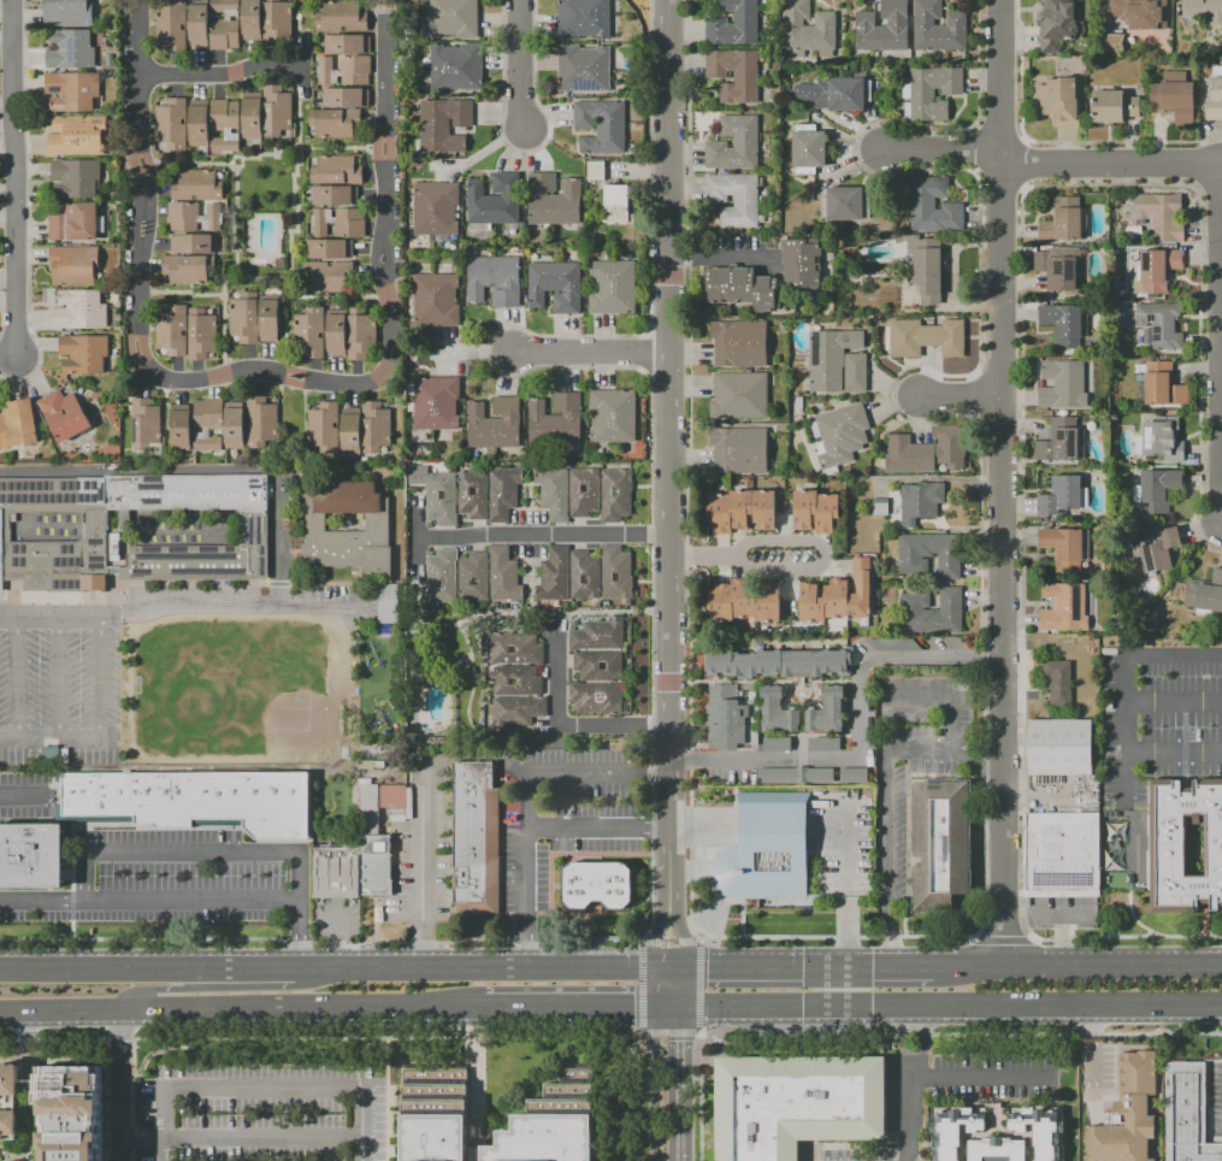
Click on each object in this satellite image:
building: (1117, 7)
building: (1204, 10)
building: (66, 12)
building: (1149, 13)
building: (341, 17)
building: (451, 18)
building: (252, 19)
building: (583, 19)
building: (277, 22)
building: (171, 24)
building: (199, 24)
building: (732, 24)
building: (1055, 24)
building: (225, 25)
building: (882, 28)
building: (938, 28)
building: (808, 29)
building: (1111, 42)
building: (346, 43)
building: (70, 49)
road: (383, 63)
building: (454, 66)
road: (524, 67)
building: (583, 67)
building: (344, 70)
road: (220, 72)
road: (138, 73)
building: (733, 73)
building: (71, 90)
building: (933, 92)
building: (833, 93)
building: (1215, 95)
building: (344, 96)
building: (1174, 98)
building: (1057, 99)
building: (1114, 106)
building: (277, 111)
building: (252, 117)
building: (332, 122)
building: (197, 124)
building: (225, 124)
building: (443, 124)
building: (171, 125)
building: (600, 125)
road: (299, 126)
building: (73, 135)
building: (733, 143)
road: (377, 146)
road: (388, 146)
road: (330, 148)
building: (808, 149)
road: (283, 153)
road: (941, 155)
road: (142, 161)
road: (242, 161)
road: (178, 163)
road: (1111, 163)
road: (135, 164)
road: (214, 164)
building: (595, 170)
building: (336, 171)
road: (14, 175)
building: (76, 177)
building: (196, 185)
building: (333, 194)
road: (143, 195)
building: (734, 198)
building: (494, 200)
building: (553, 200)
building: (616, 204)
building: (844, 204)
road: (383, 205)
building: (933, 205)
building: (436, 207)
road: (232, 210)
building: (1161, 214)
building: (194, 217)
building: (1062, 220)
building: (73, 222)
building: (340, 222)
road: (136, 226)
road: (144, 228)
road: (287, 231)
building: (193, 243)
building: (330, 248)
road: (290, 252)
road: (712, 257)
road: (376, 259)
road: (384, 259)
building: (278, 261)
building: (802, 263)
building: (73, 265)
road: (668, 267)
building: (188, 269)
building: (921, 269)
building: (1056, 270)
building: (1155, 271)
building: (325, 276)
road: (256, 277)
building: (495, 279)
road: (237, 281)
road: (138, 285)
building: (555, 285)
building: (613, 287)
building: (742, 287)
road: (188, 293)
road: (223, 299)
building: (436, 300)
building: (79, 310)
building: (243, 317)
building: (267, 318)
building: (1063, 324)
building: (1161, 324)
building: (171, 331)
building: (201, 332)
building: (309, 332)
building: (359, 332)
building: (336, 334)
building: (923, 337)
building: (738, 343)
road: (138, 347)
road: (130, 349)
road: (589, 350)
building: (83, 353)
road: (248, 355)
road: (388, 358)
building: (836, 361)
road: (176, 369)
road: (196, 369)
road: (294, 371)
road: (206, 377)
road: (291, 379)
road: (255, 382)
road: (141, 383)
building: (1061, 384)
building: (1162, 384)
road: (212, 387)
road: (232, 387)
road: (179, 393)
building: (738, 396)
road: (964, 401)
building: (436, 402)
building: (64, 414)
building: (613, 416)
building: (555, 419)
building: (261, 422)
building: (494, 423)
building: (18, 424)
building: (207, 424)
building: (234, 425)
building: (376, 426)
building: (146, 428)
building: (324, 428)
building: (181, 429)
building: (349, 432)
building: (840, 434)
building: (1161, 438)
building: (1059, 441)
building: (739, 449)
building: (927, 450)
road: (1004, 479)
building: (1158, 489)
building: (584, 491)
building: (437, 493)
building: (503, 493)
building: (553, 493)
building: (473, 494)
building: (615, 494)
building: (1059, 495)
building: (920, 501)
building: (880, 506)
building: (742, 509)
building: (815, 511)
building: (377, 523)
building: (131, 532)
road: (523, 537)
building: (1157, 544)
road: (281, 547)
building: (1063, 547)
building: (928, 553)
road: (418, 555)
road: (737, 555)
building: (615, 572)
building: (502, 574)
building: (553, 574)
building: (583, 574)
building: (441, 576)
building: (473, 577)
parking lot: (321, 593)
building: (1205, 593)
building: (837, 596)
road: (183, 600)
building: (744, 601)
building: (388, 603)
building: (1063, 608)
building: (932, 611)
building: (597, 635)
building: (895, 644)
building: (514, 648)
building: (779, 662)
building: (598, 665)
road: (17, 678)
road: (59, 678)
park: (75, 678)
road: (96, 678)
park: (232, 679)
building: (515, 679)
building: (1058, 682)
parking lot: (58, 684)
building: (597, 697)
road: (1173, 700)
building: (777, 711)
building: (826, 711)
building: (516, 712)
road: (671, 718)
building: (726, 718)
road: (563, 726)
road: (1124, 729)
road: (856, 730)
road: (48, 743)
building: (825, 743)
building: (777, 744)
building: (1061, 748)
parking lot: (1151, 750)
road: (1173, 752)
parking lot: (911, 760)
road: (889, 762)
road: (980, 766)
building: (795, 774)
building: (852, 776)
parking lot: (25, 795)
road: (526, 797)
building: (196, 798)
parking lot: (563, 814)
road: (598, 826)
road: (703, 826)
building: (472, 838)
parking lot: (842, 842)
building: (1186, 844)
building: (359, 847)
parking lot: (423, 847)
building: (938, 847)
building: (766, 849)
road: (193, 850)
building: (1061, 851)
building: (30, 854)
road: (424, 867)
road: (843, 874)
parking lot: (154, 882)
building: (596, 884)
road: (148, 898)
flagpole: (745, 902)
parking lot: (1063, 913)
parking lot: (337, 919)
road: (1049, 919)
road: (660, 933)
road: (669, 933)
road: (677, 933)
road: (299, 935)
road: (333, 939)
road: (1063, 939)
road: (669, 942)
road: (1074, 961)
road: (803, 963)
traffic signals: (843, 963)
traffic signals: (657, 966)
road: (663, 966)
road: (674, 966)
traffic signals: (680, 966)
road: (478, 968)
road: (99, 971)
road: (248, 971)
road: (639, 986)
road: (699, 986)
road: (160, 989)
road: (656, 989)
road: (679, 989)
road: (1067, 1008)
road: (241, 1010)
road: (796, 1010)
road: (569, 1012)
traffic signals: (656, 1012)
road: (667, 1012)
traffic signals: (679, 1012)
road: (669, 1032)
road: (319, 1038)
road: (29, 1042)
road: (37, 1055)
road: (981, 1077)
road: (914, 1084)
road: (123, 1085)
road: (656, 1086)
road: (678, 1086)
road: (262, 1088)
road: (639, 1096)
parking lot: (259, 1100)
road: (385, 1100)
road: (474, 1100)
building: (8, 1101)
building: (795, 1103)
building: (70, 1112)
building: (1127, 1113)
building: (1186, 1113)
building: (436, 1114)
building: (553, 1124)
building: (952, 1131)
building: (1040, 1131)
road: (264, 1133)
road: (144, 1142)
building: (996, 1149)

